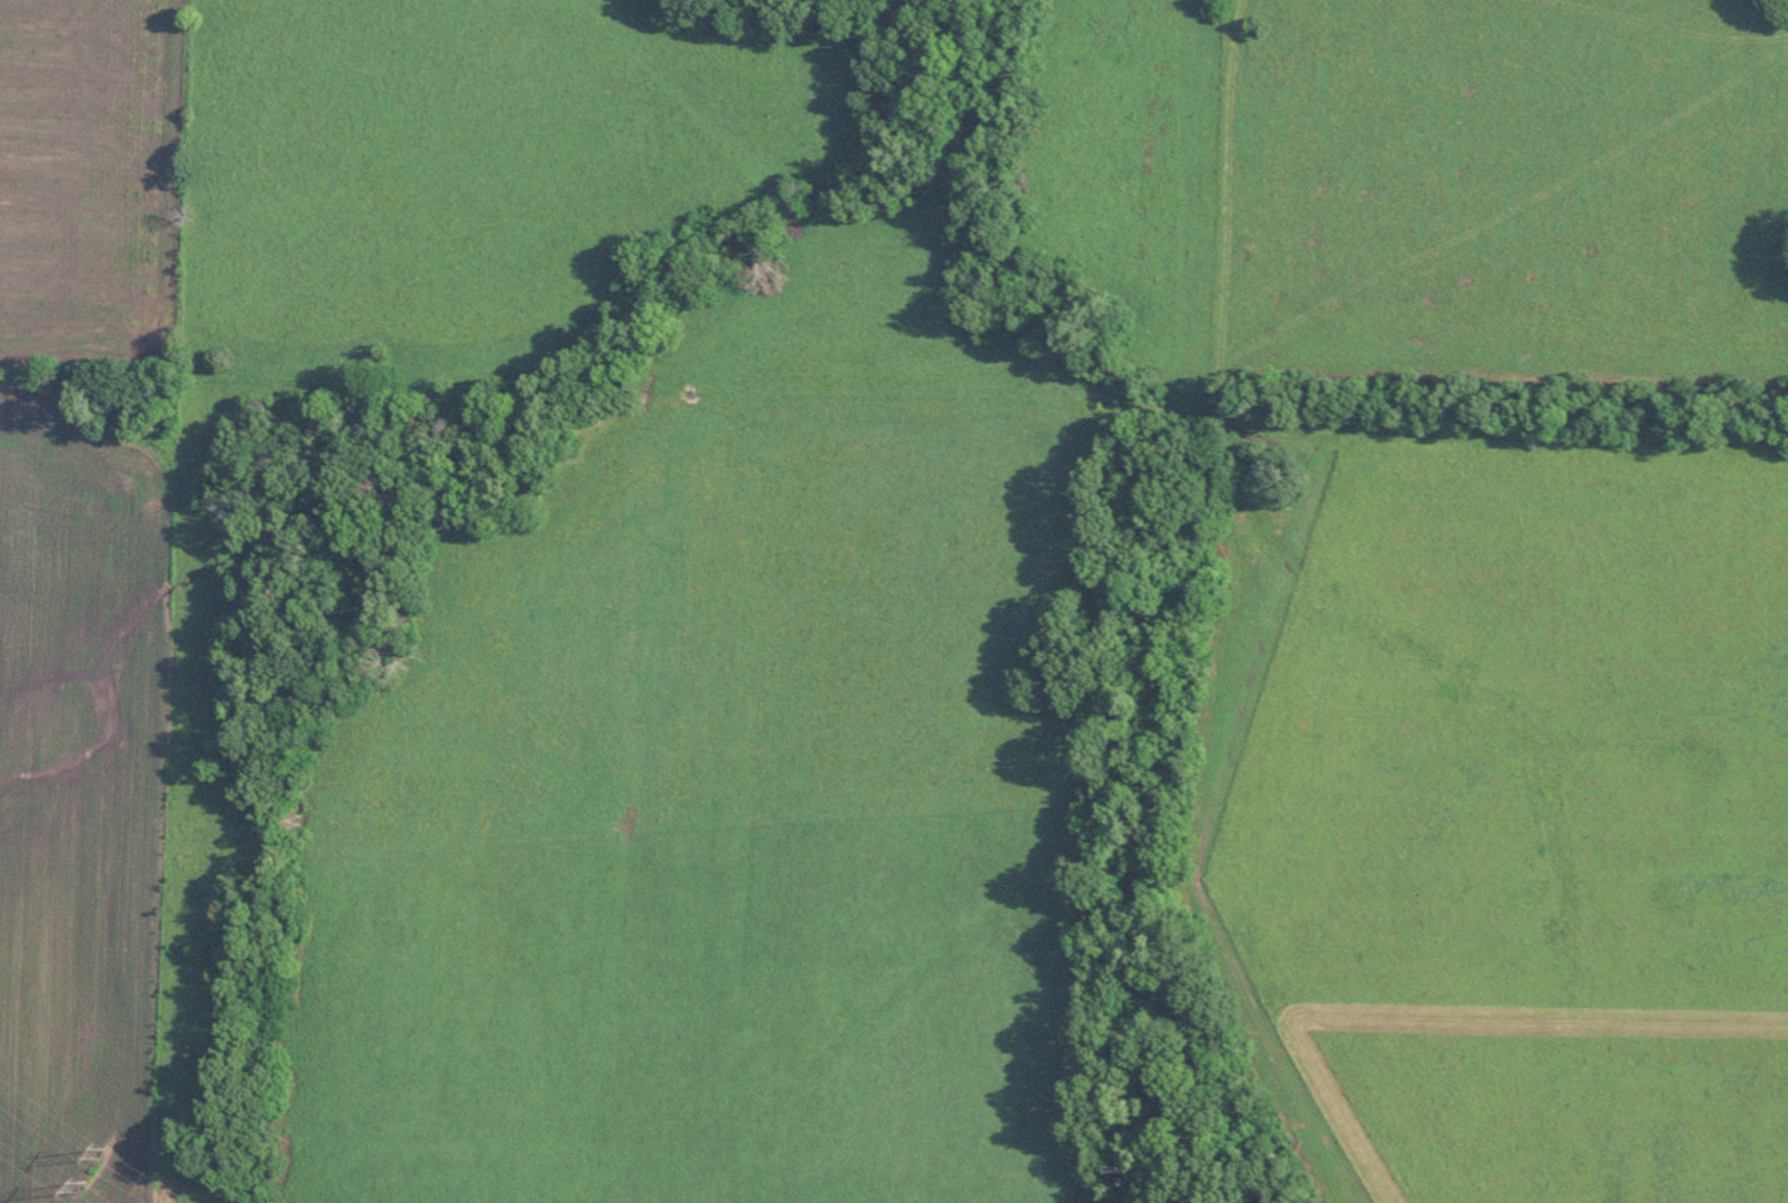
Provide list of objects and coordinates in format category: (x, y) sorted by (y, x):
power tower: (96, 1159)
power tower: (74, 1190)

